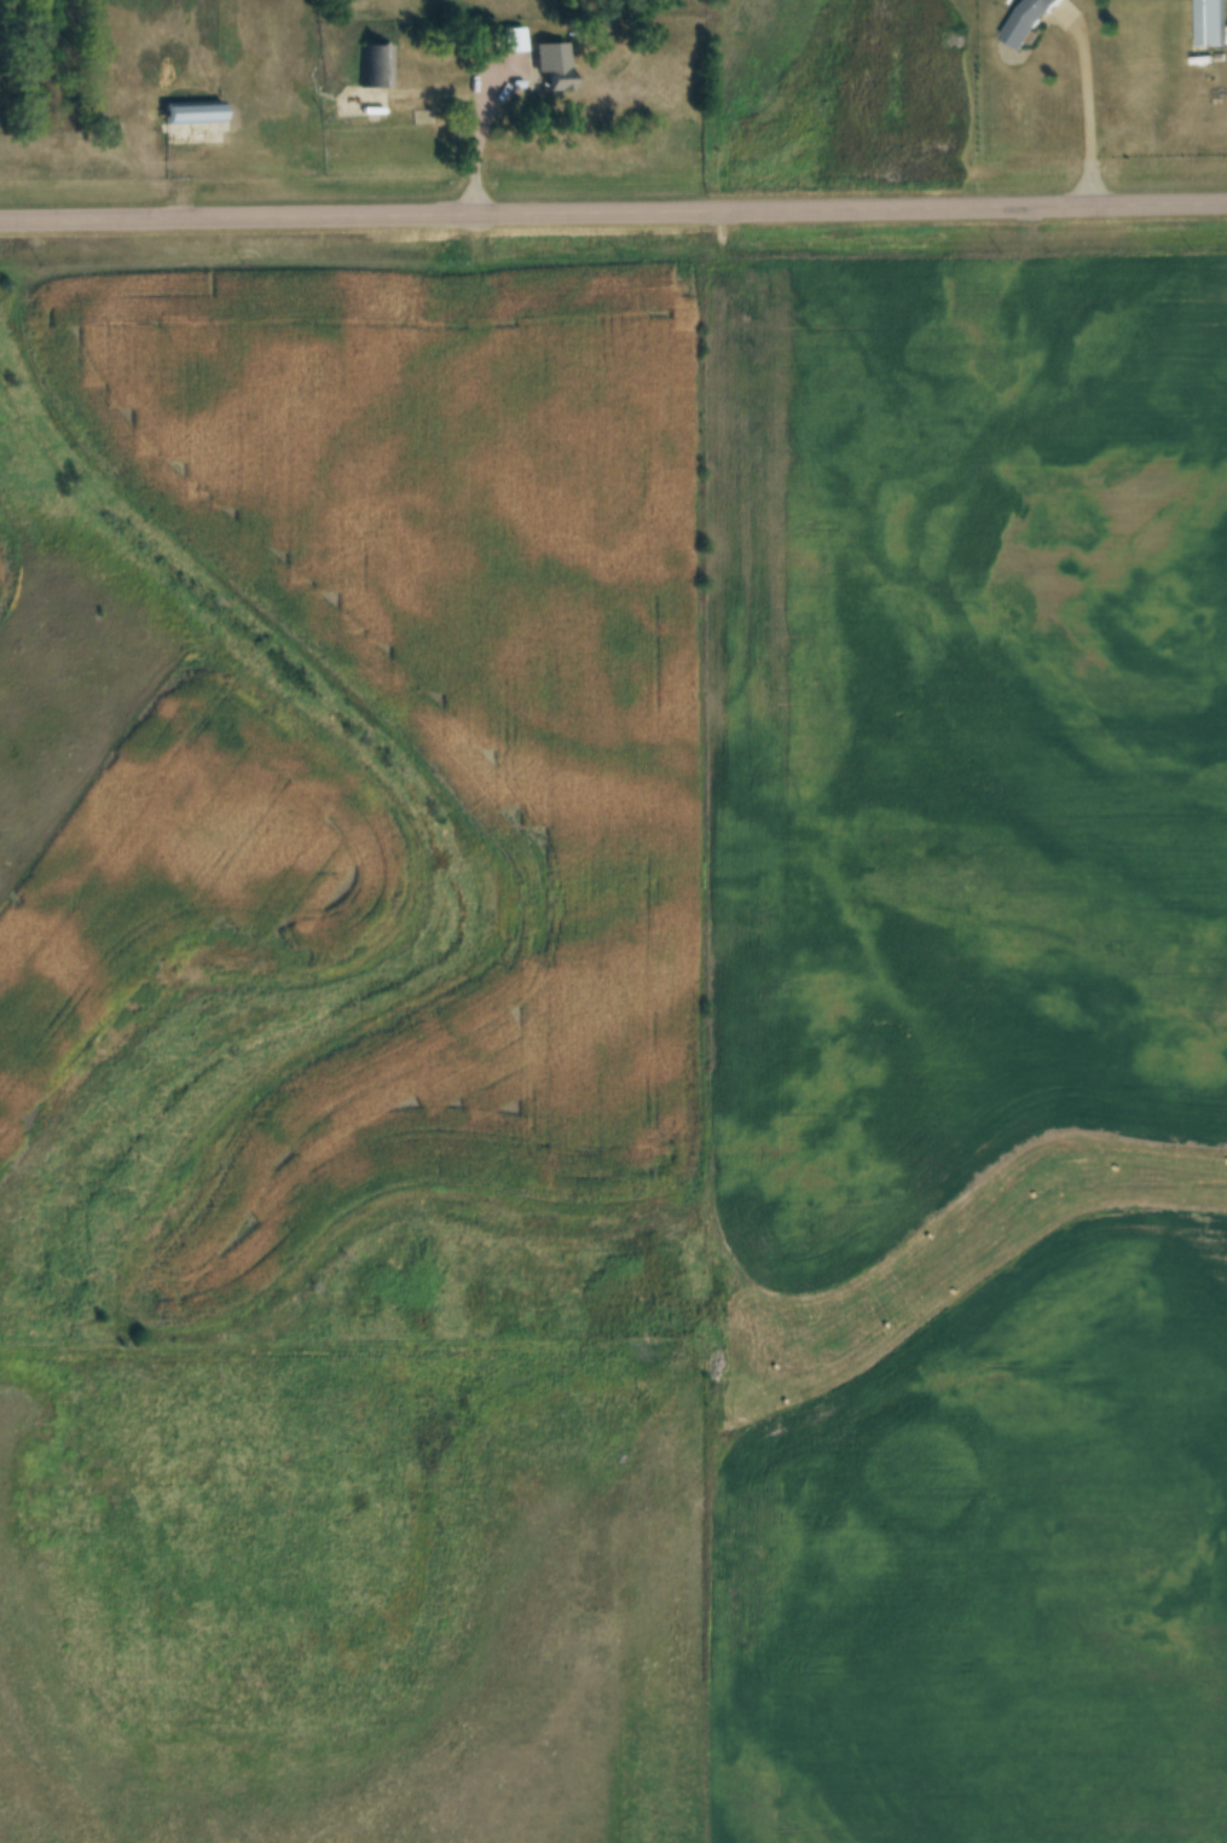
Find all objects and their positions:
building: (1028, 21)
building: (1209, 24)
building: (513, 40)
building: (374, 68)
building: (555, 76)
building: (191, 112)
road: (1089, 112)
road: (482, 138)
road: (613, 214)

